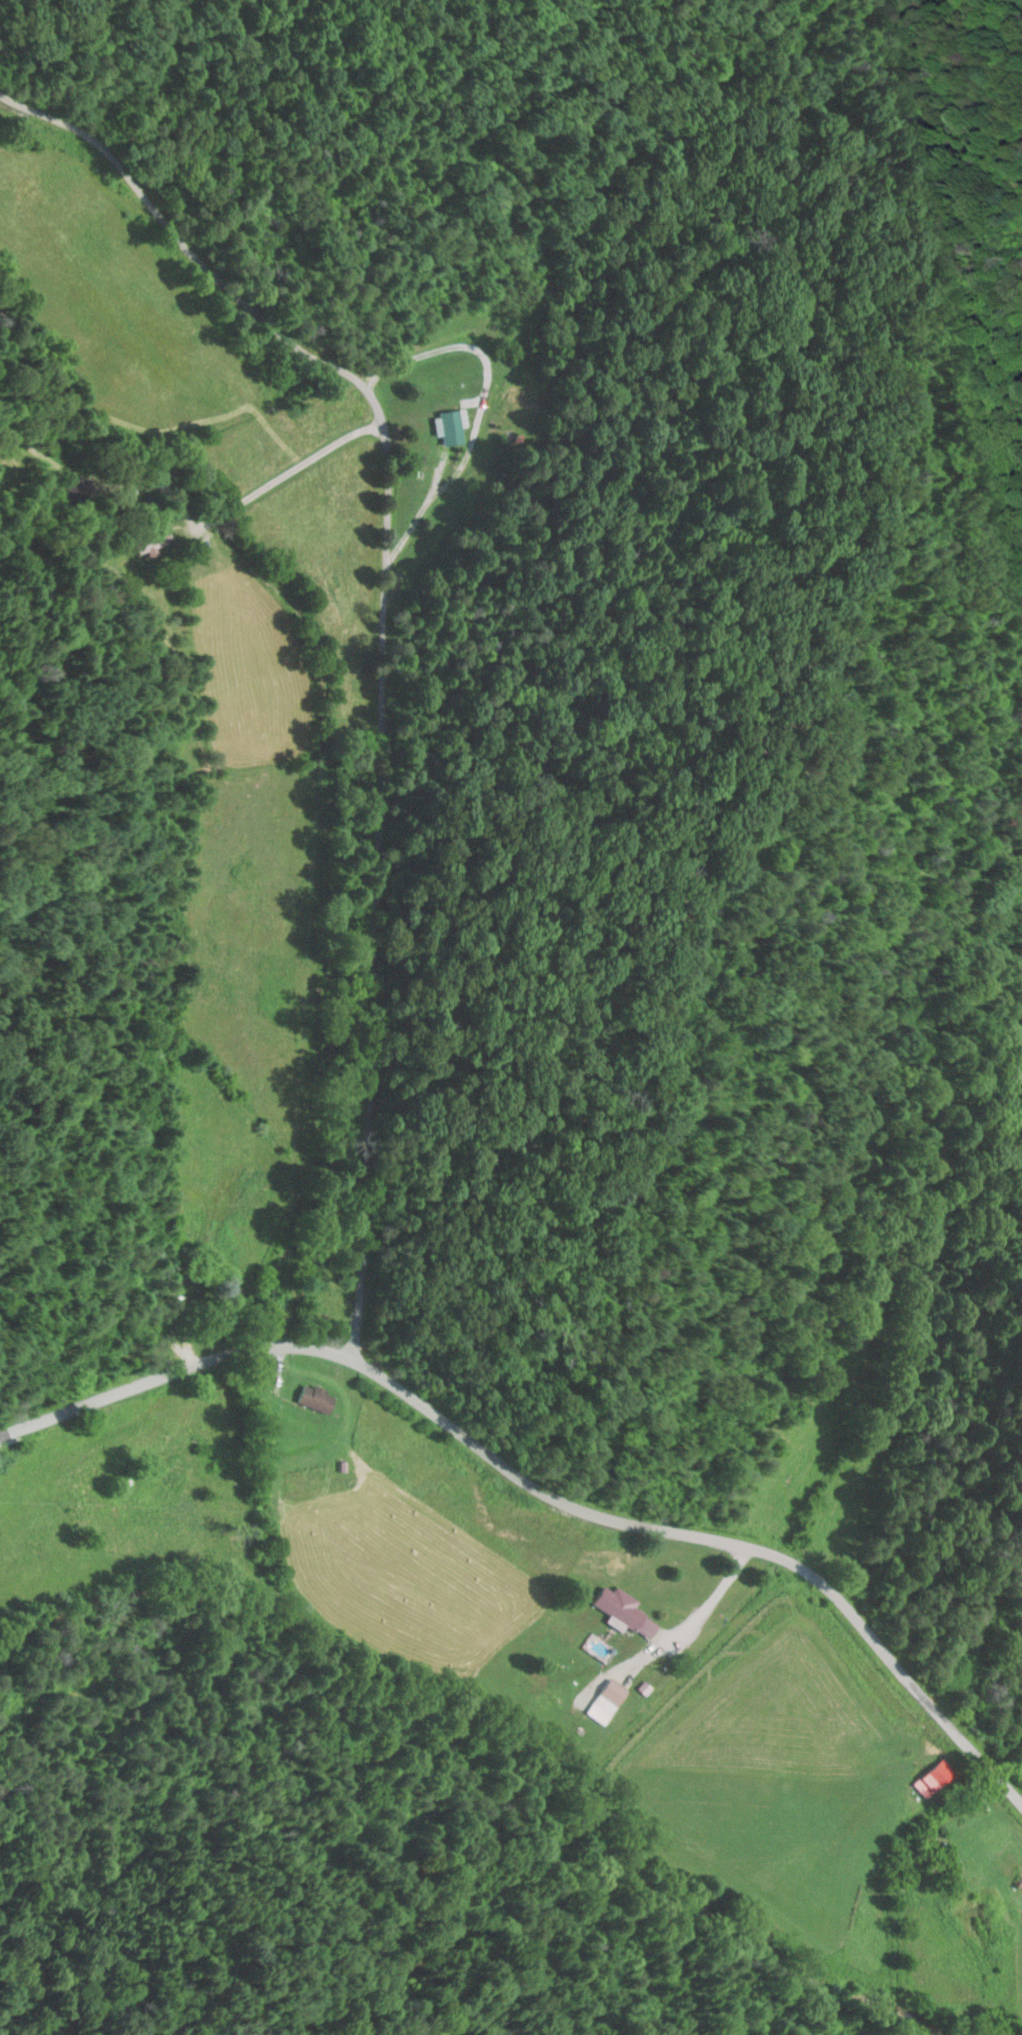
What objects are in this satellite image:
building: (451, 426)
road: (383, 636)
road: (191, 671)
building: (317, 1399)
road: (542, 1489)
building: (622, 1608)
building: (613, 1698)
building: (934, 1779)

